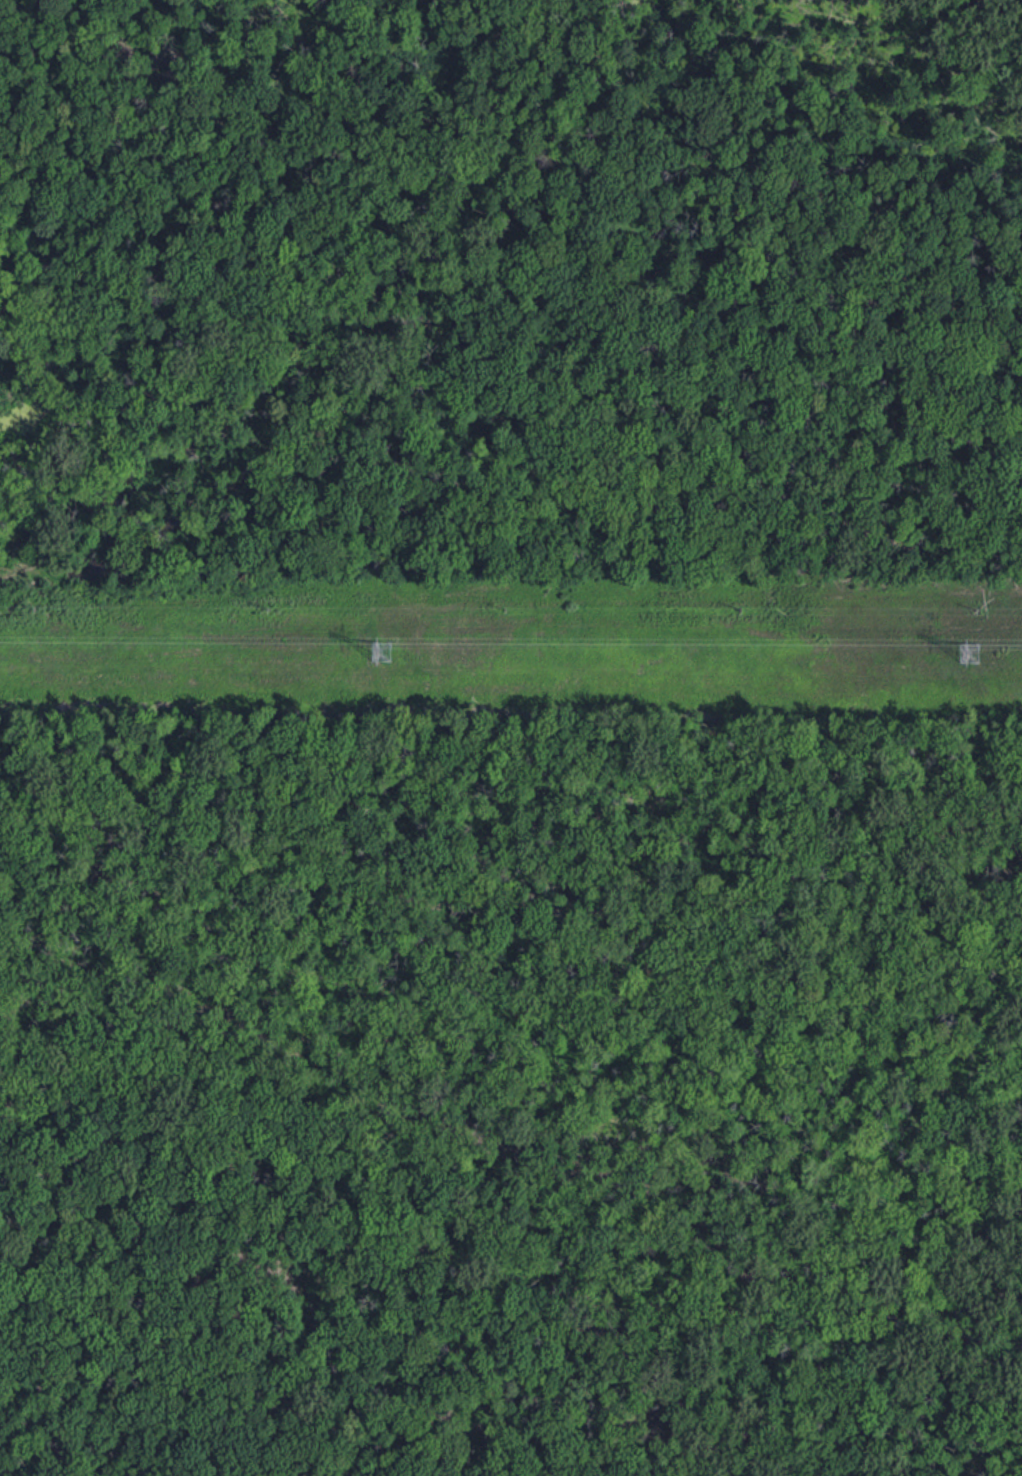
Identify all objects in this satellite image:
road: (26, 576)
power tower: (382, 651)
power tower: (970, 653)

